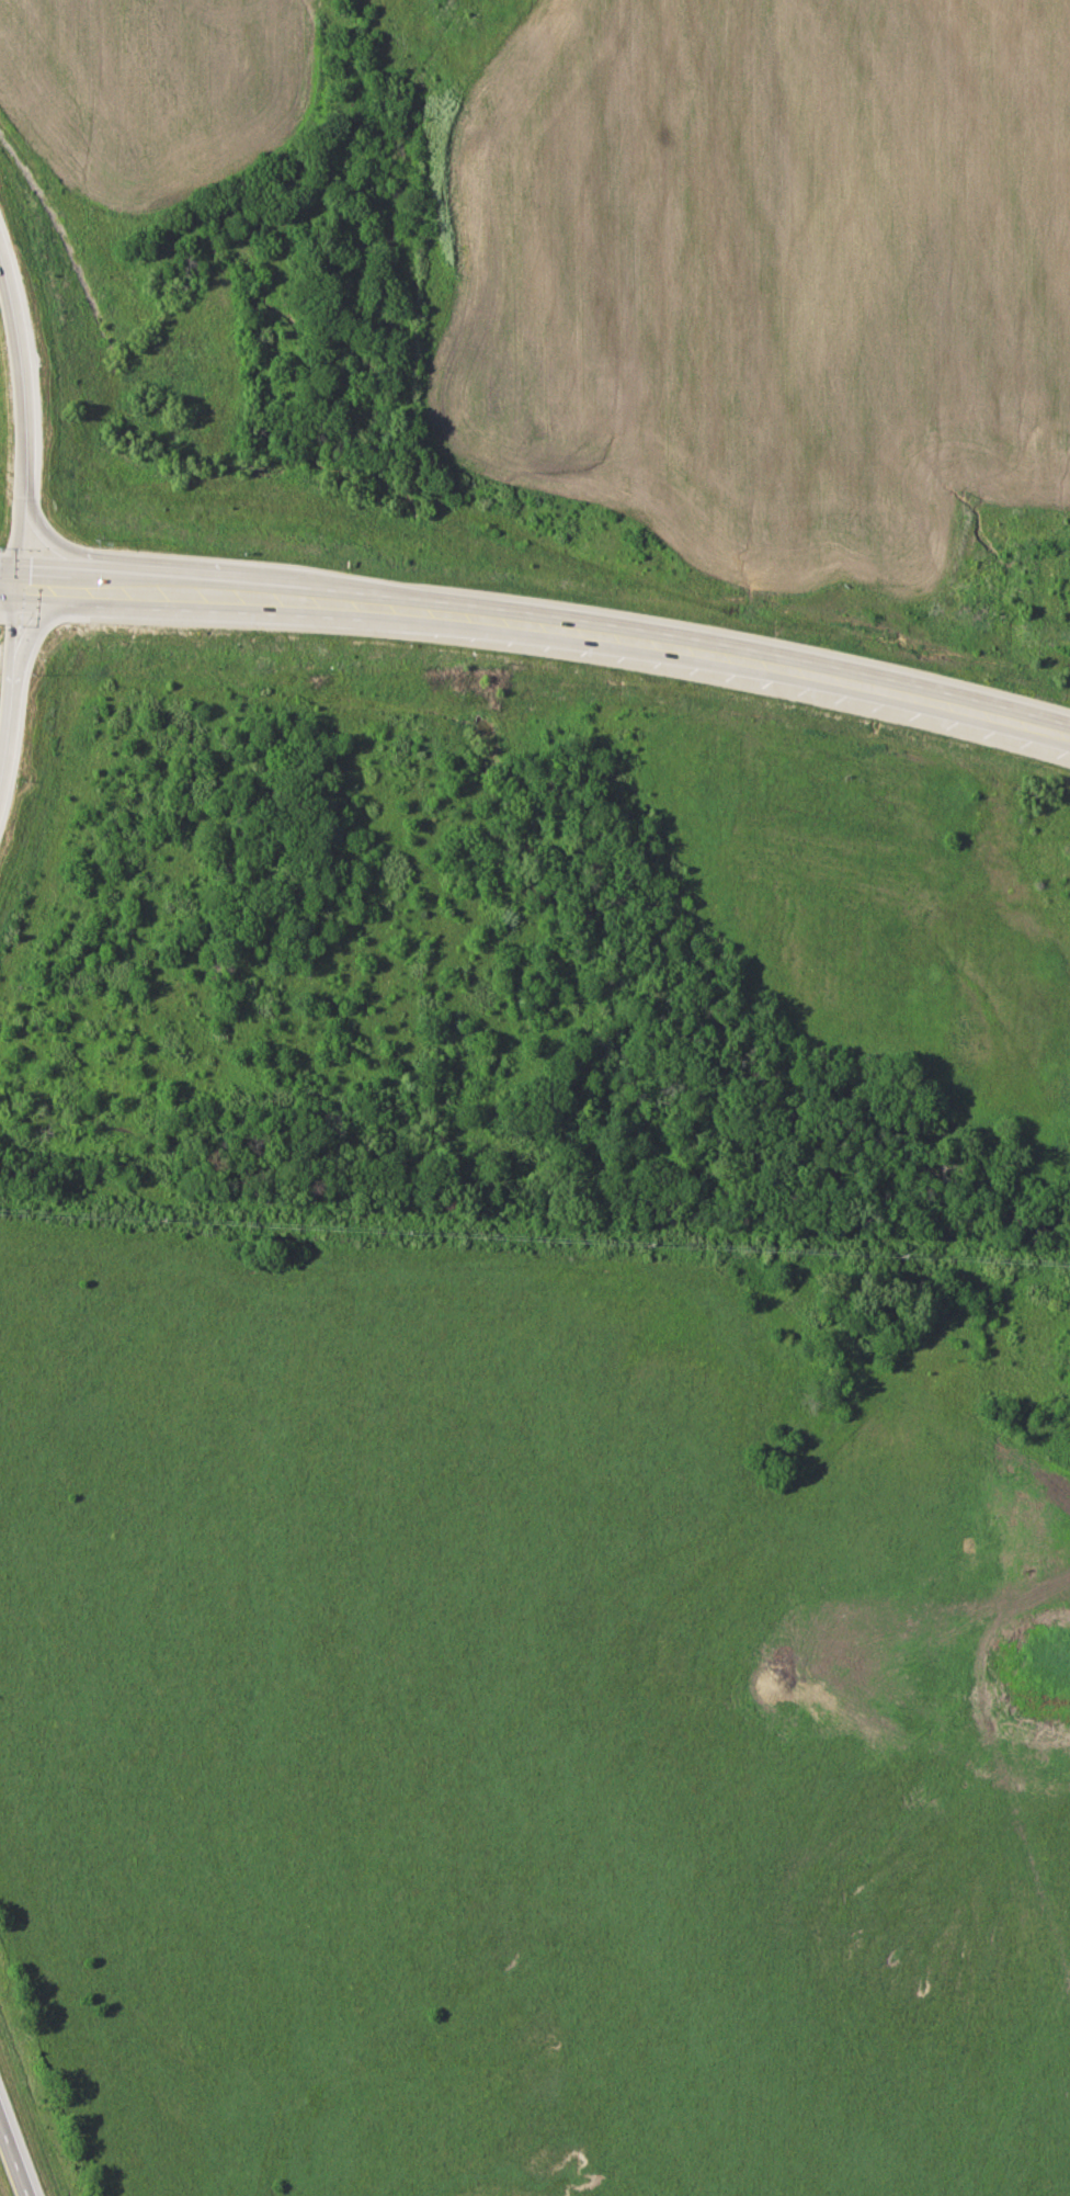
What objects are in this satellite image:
crop: (134, 168)
crop: (783, 288)
road: (21, 425)
road: (60, 551)
road: (8, 586)
road: (50, 619)
road: (548, 625)
road: (14, 627)
road: (5, 723)
road: (1068, 1939)
road: (16, 2149)

